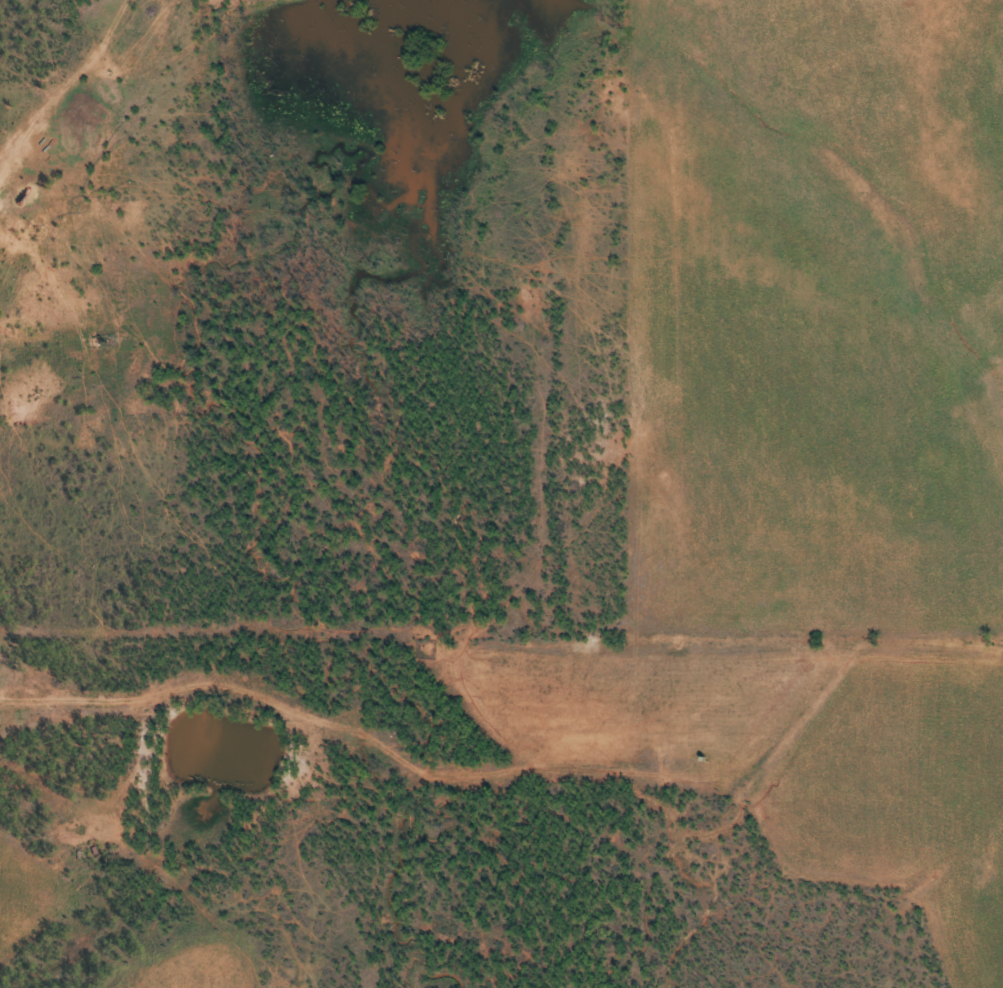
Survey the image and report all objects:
road: (35, 19)

